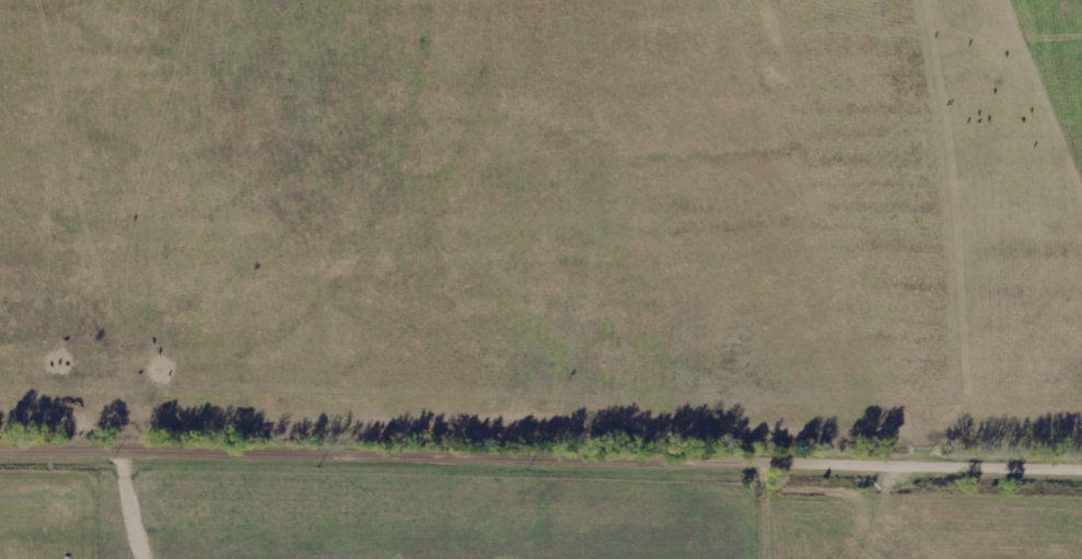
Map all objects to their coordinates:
road: (540, 464)

